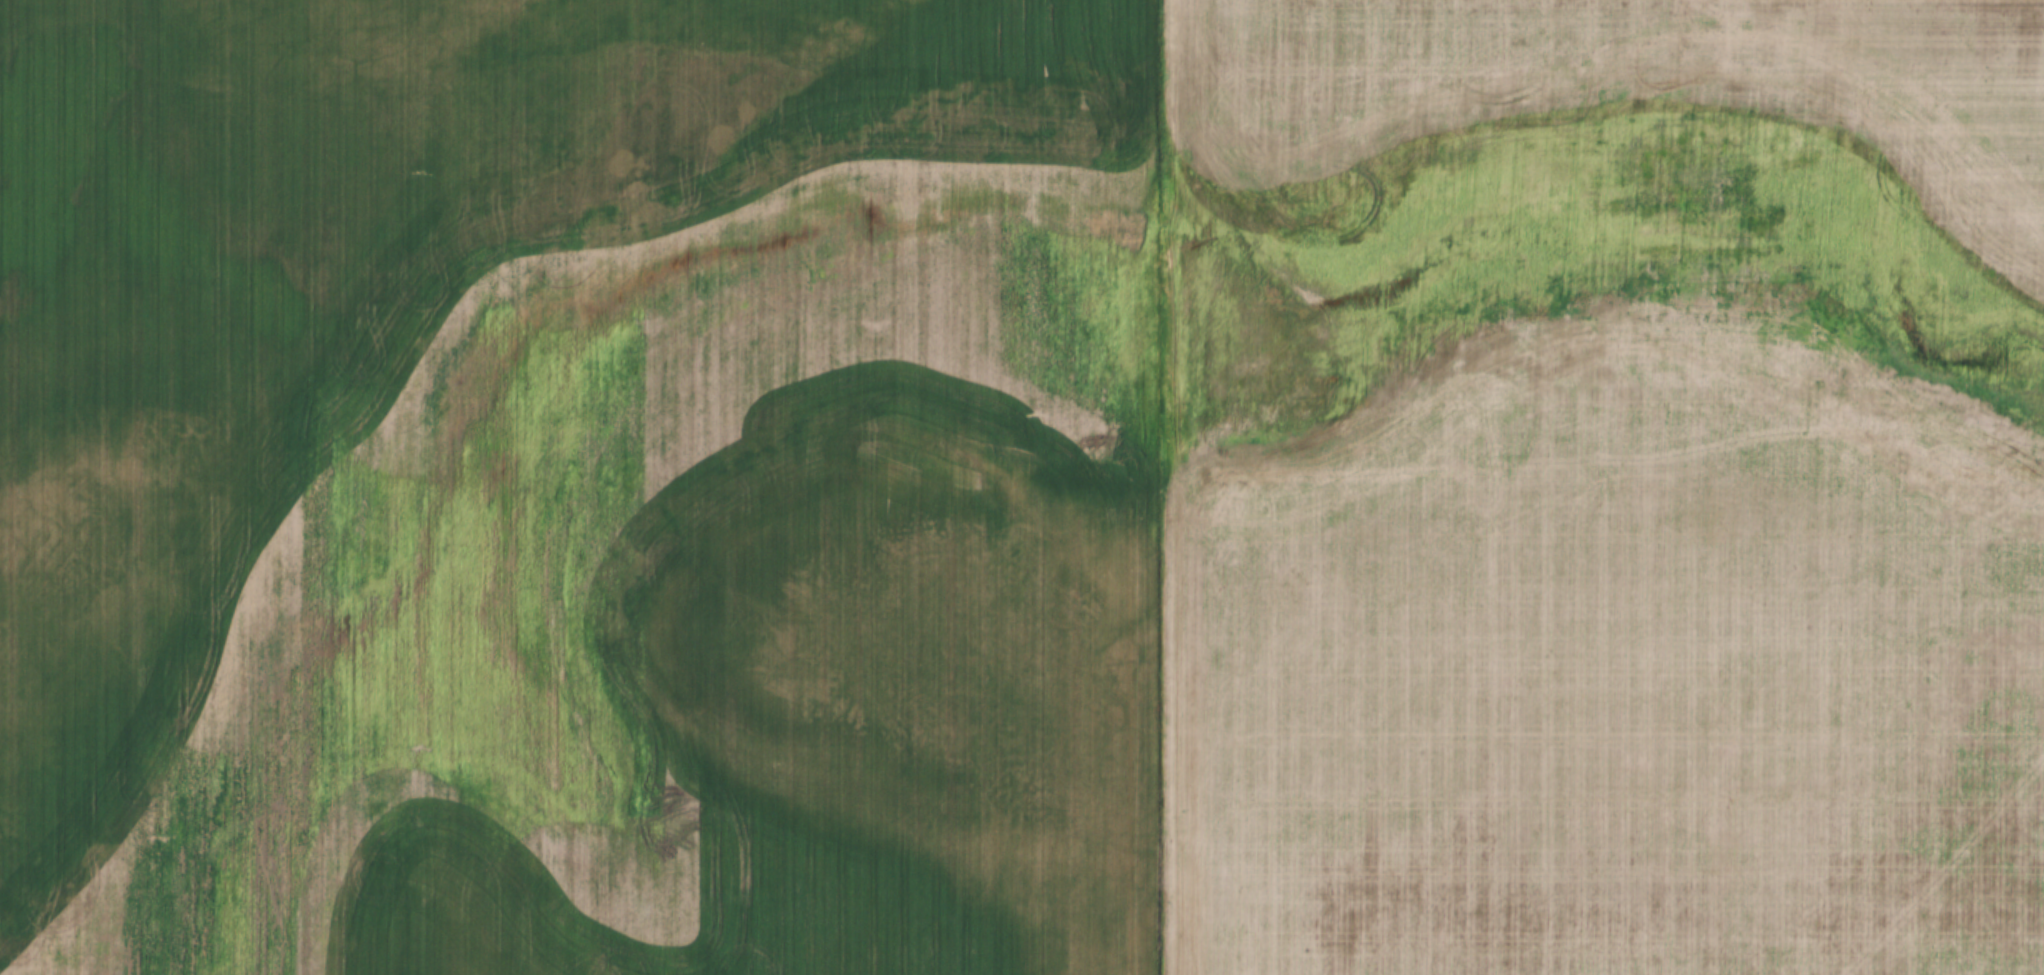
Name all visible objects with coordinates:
road: (1183, 484)
road: (1605, 784)

